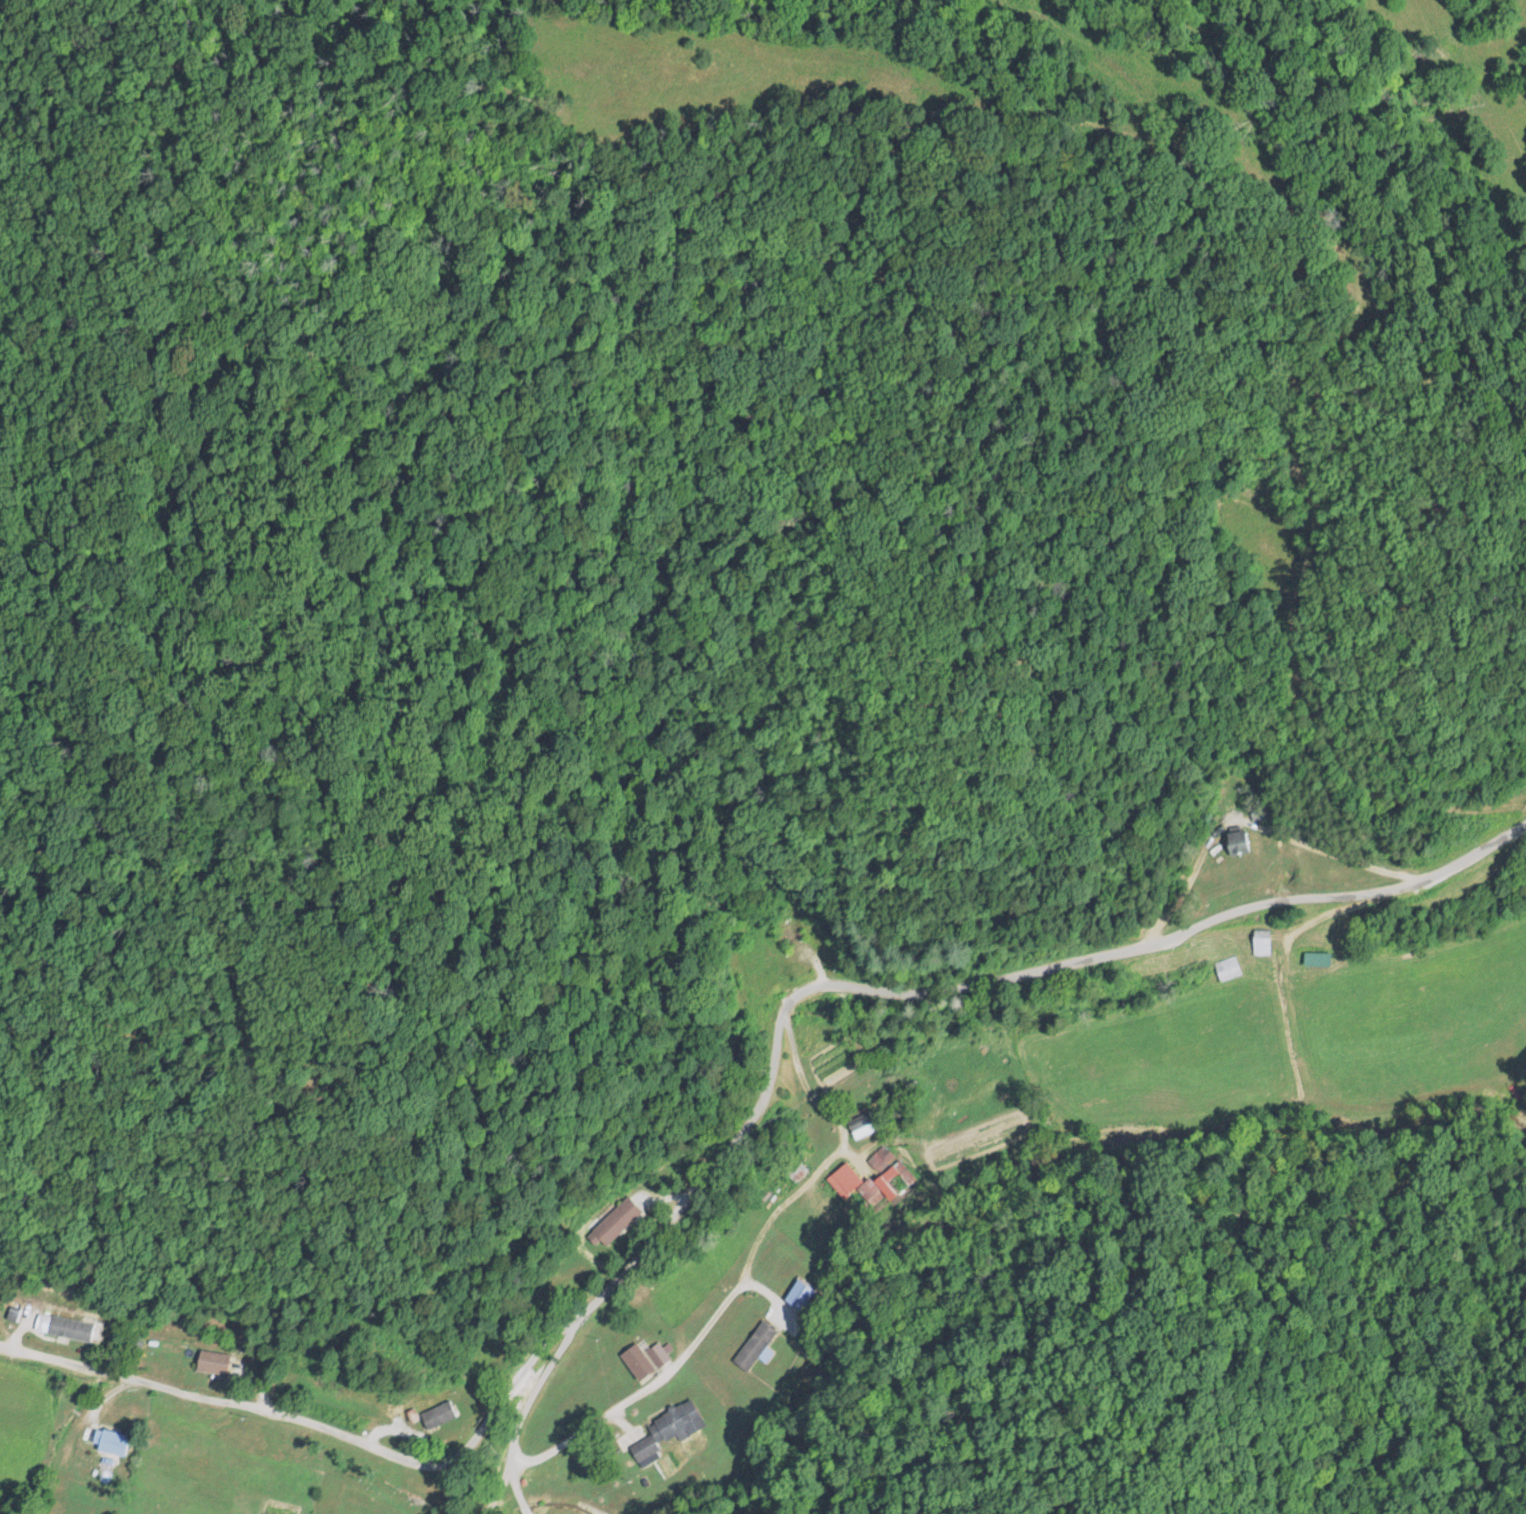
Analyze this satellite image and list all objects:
building: (1234, 842)
building: (1258, 942)
building: (1314, 959)
building: (1224, 969)
building: (859, 1128)
road: (741, 1132)
building: (882, 1156)
building: (847, 1182)
building: (623, 1221)
building: (69, 1327)
building: (751, 1348)
building: (650, 1360)
building: (219, 1363)
road: (632, 1395)
building: (444, 1414)
building: (675, 1427)
building: (121, 1443)
road: (513, 1472)
road: (495, 1492)

